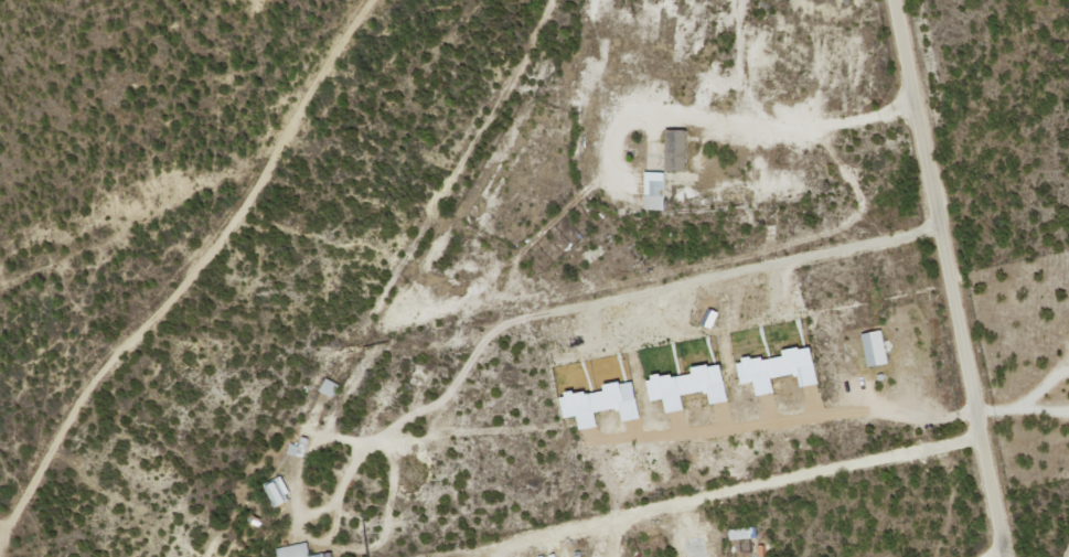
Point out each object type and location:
building: (681, 150)
building: (659, 191)
road: (191, 271)
road: (947, 278)
railway: (408, 282)
building: (715, 317)
building: (879, 347)
building: (784, 367)
building: (694, 385)
building: (332, 386)
building: (607, 403)
road: (787, 418)
building: (285, 490)
building: (744, 532)
building: (301, 550)

